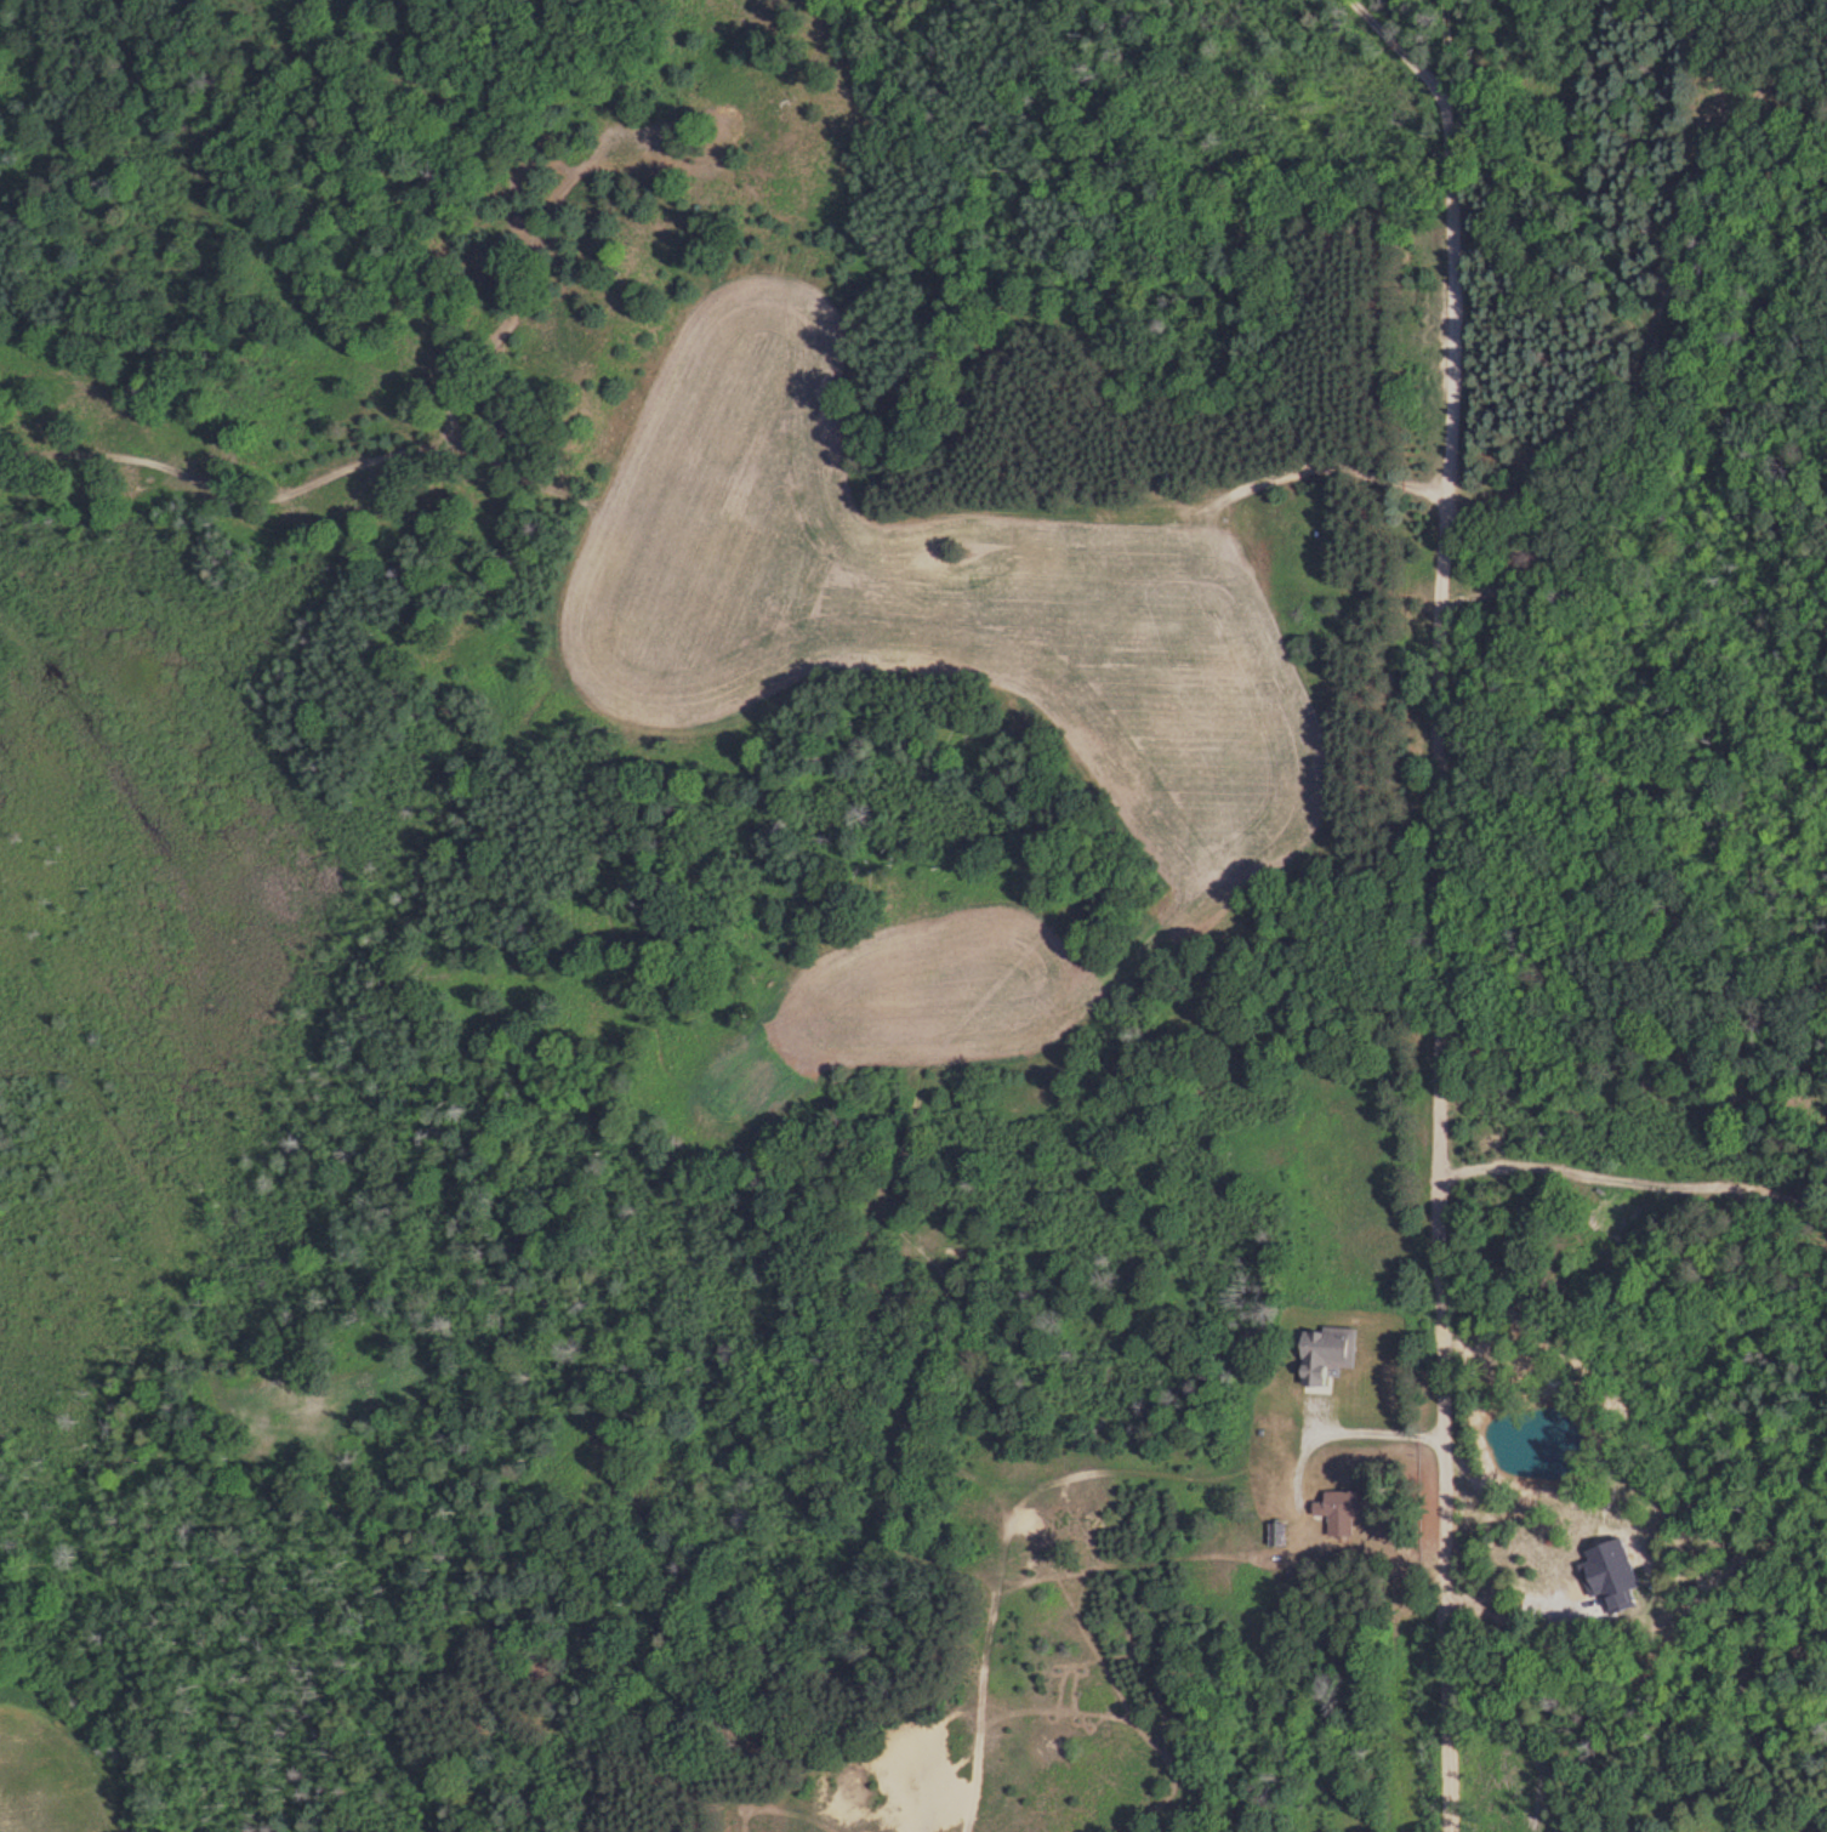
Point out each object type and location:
road: (1396, 41)
road: (1444, 58)
road: (519, 291)
road: (715, 523)
road: (1442, 957)
road: (1635, 1062)
building: (1339, 1512)
building: (1276, 1534)

